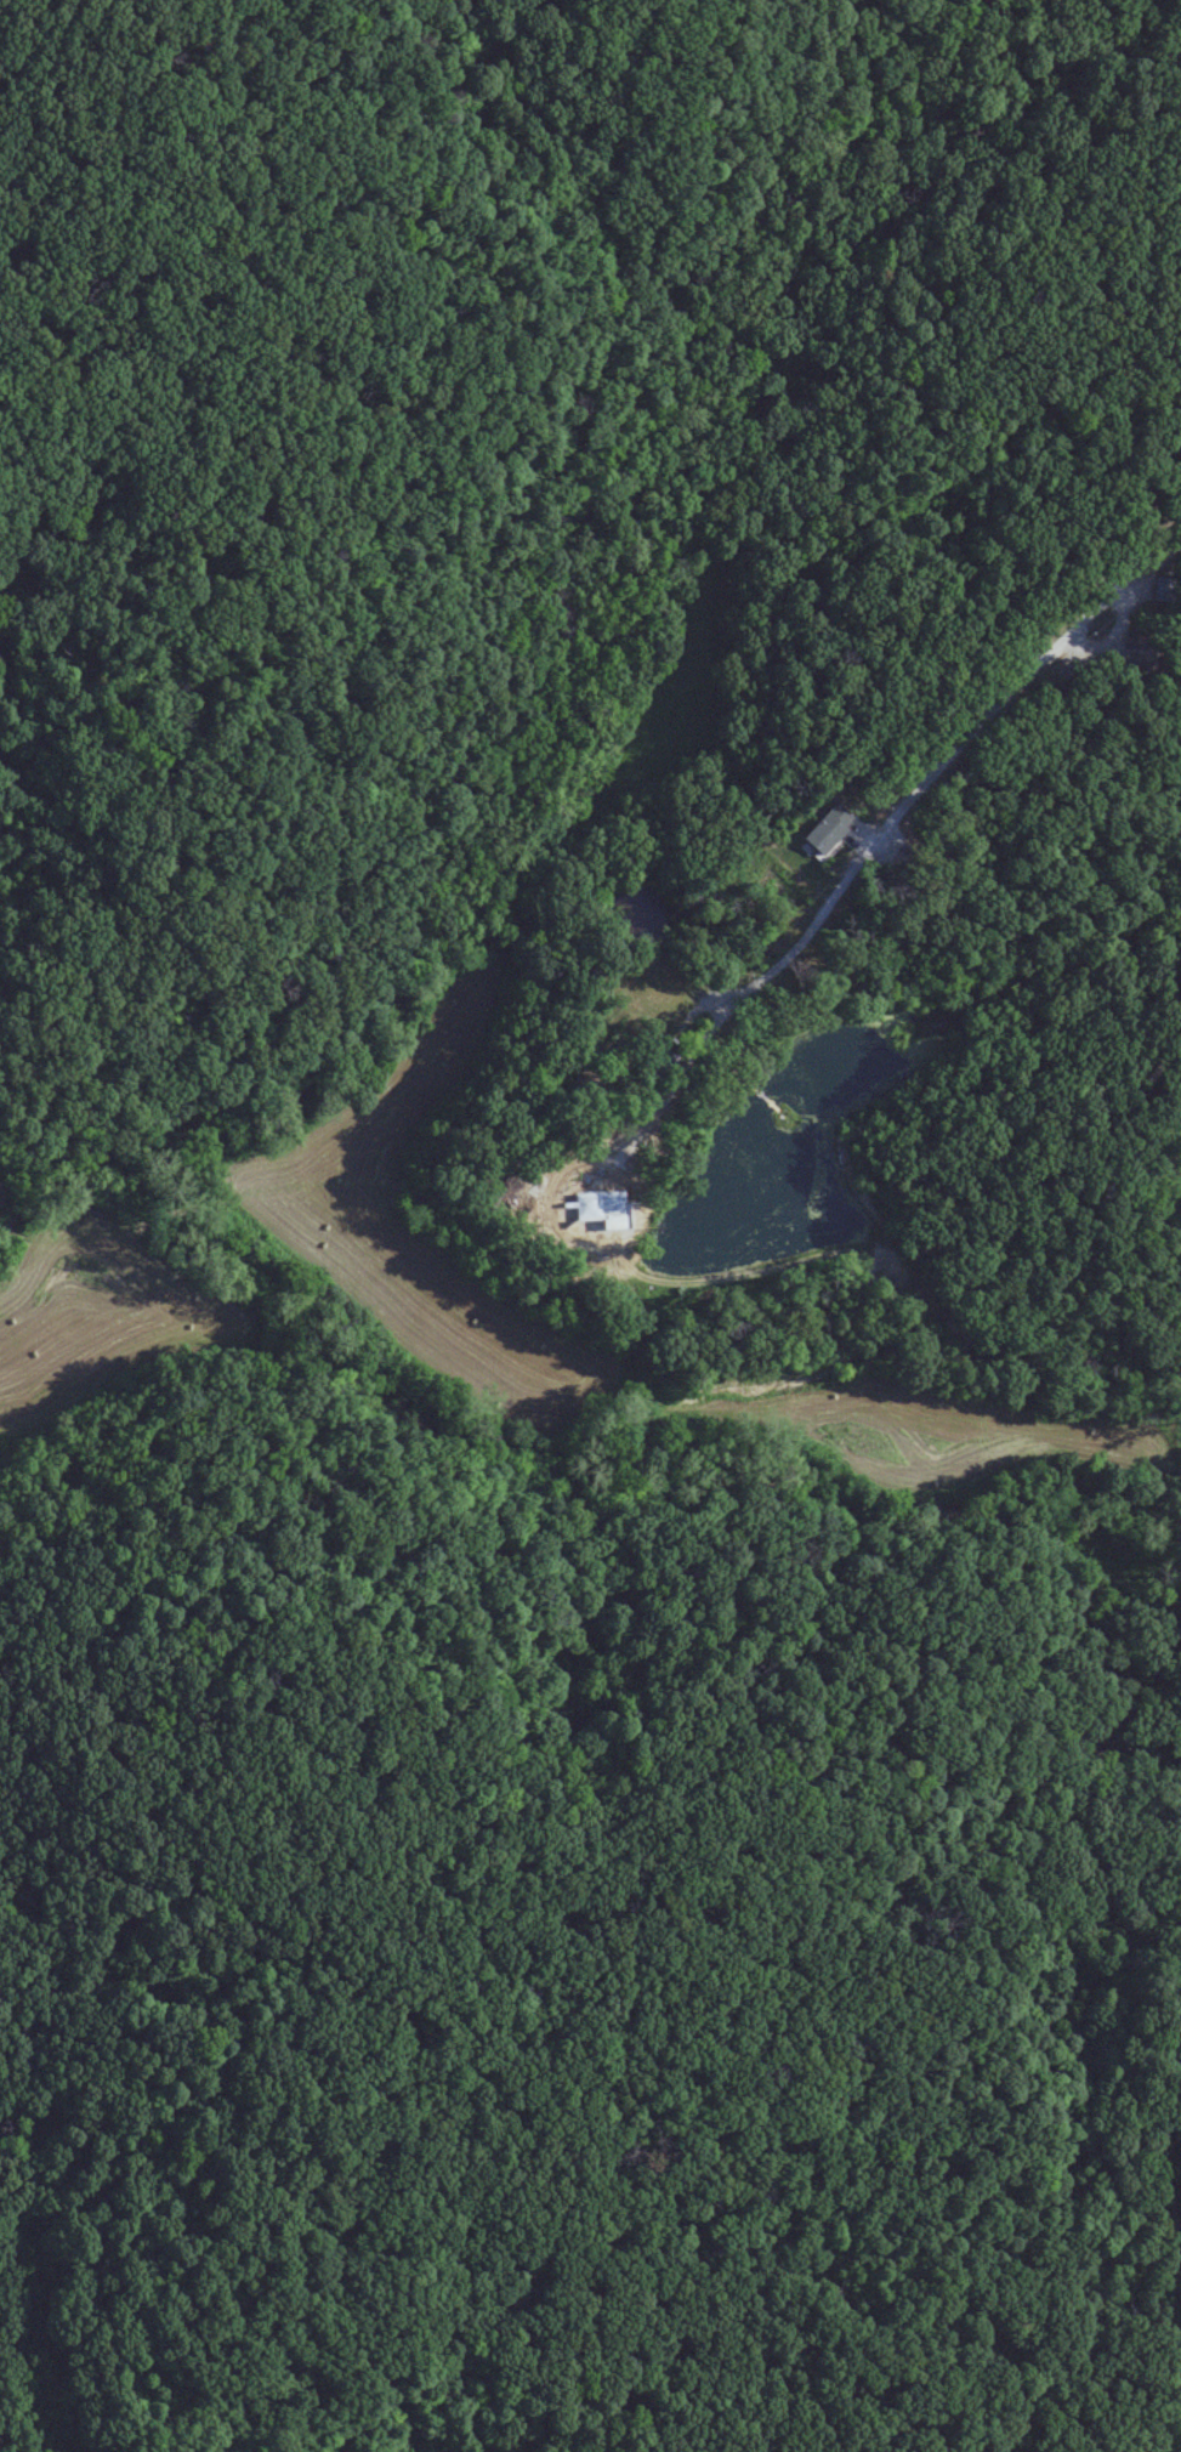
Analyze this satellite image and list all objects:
building: (1132, 652)
road: (1015, 679)
building: (827, 827)
building: (655, 1062)
building: (600, 1207)

